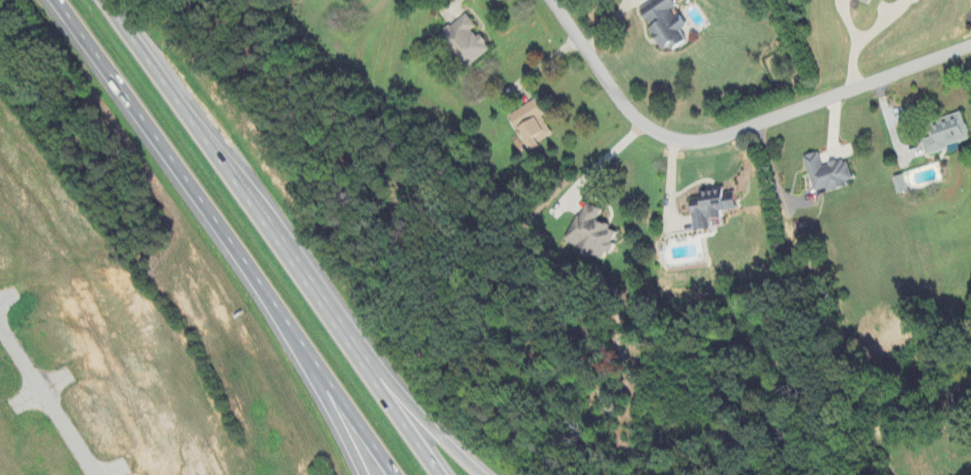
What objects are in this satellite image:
building: (919, 0)
building: (868, 1)
building: (671, 22)
building: (465, 41)
building: (536, 123)
road: (735, 123)
building: (950, 131)
road: (602, 156)
road: (767, 168)
building: (832, 172)
building: (902, 185)
building: (717, 209)
building: (596, 229)
road: (226, 236)
road: (276, 236)
road: (307, 361)
road: (405, 396)
road: (49, 398)
road: (352, 446)

